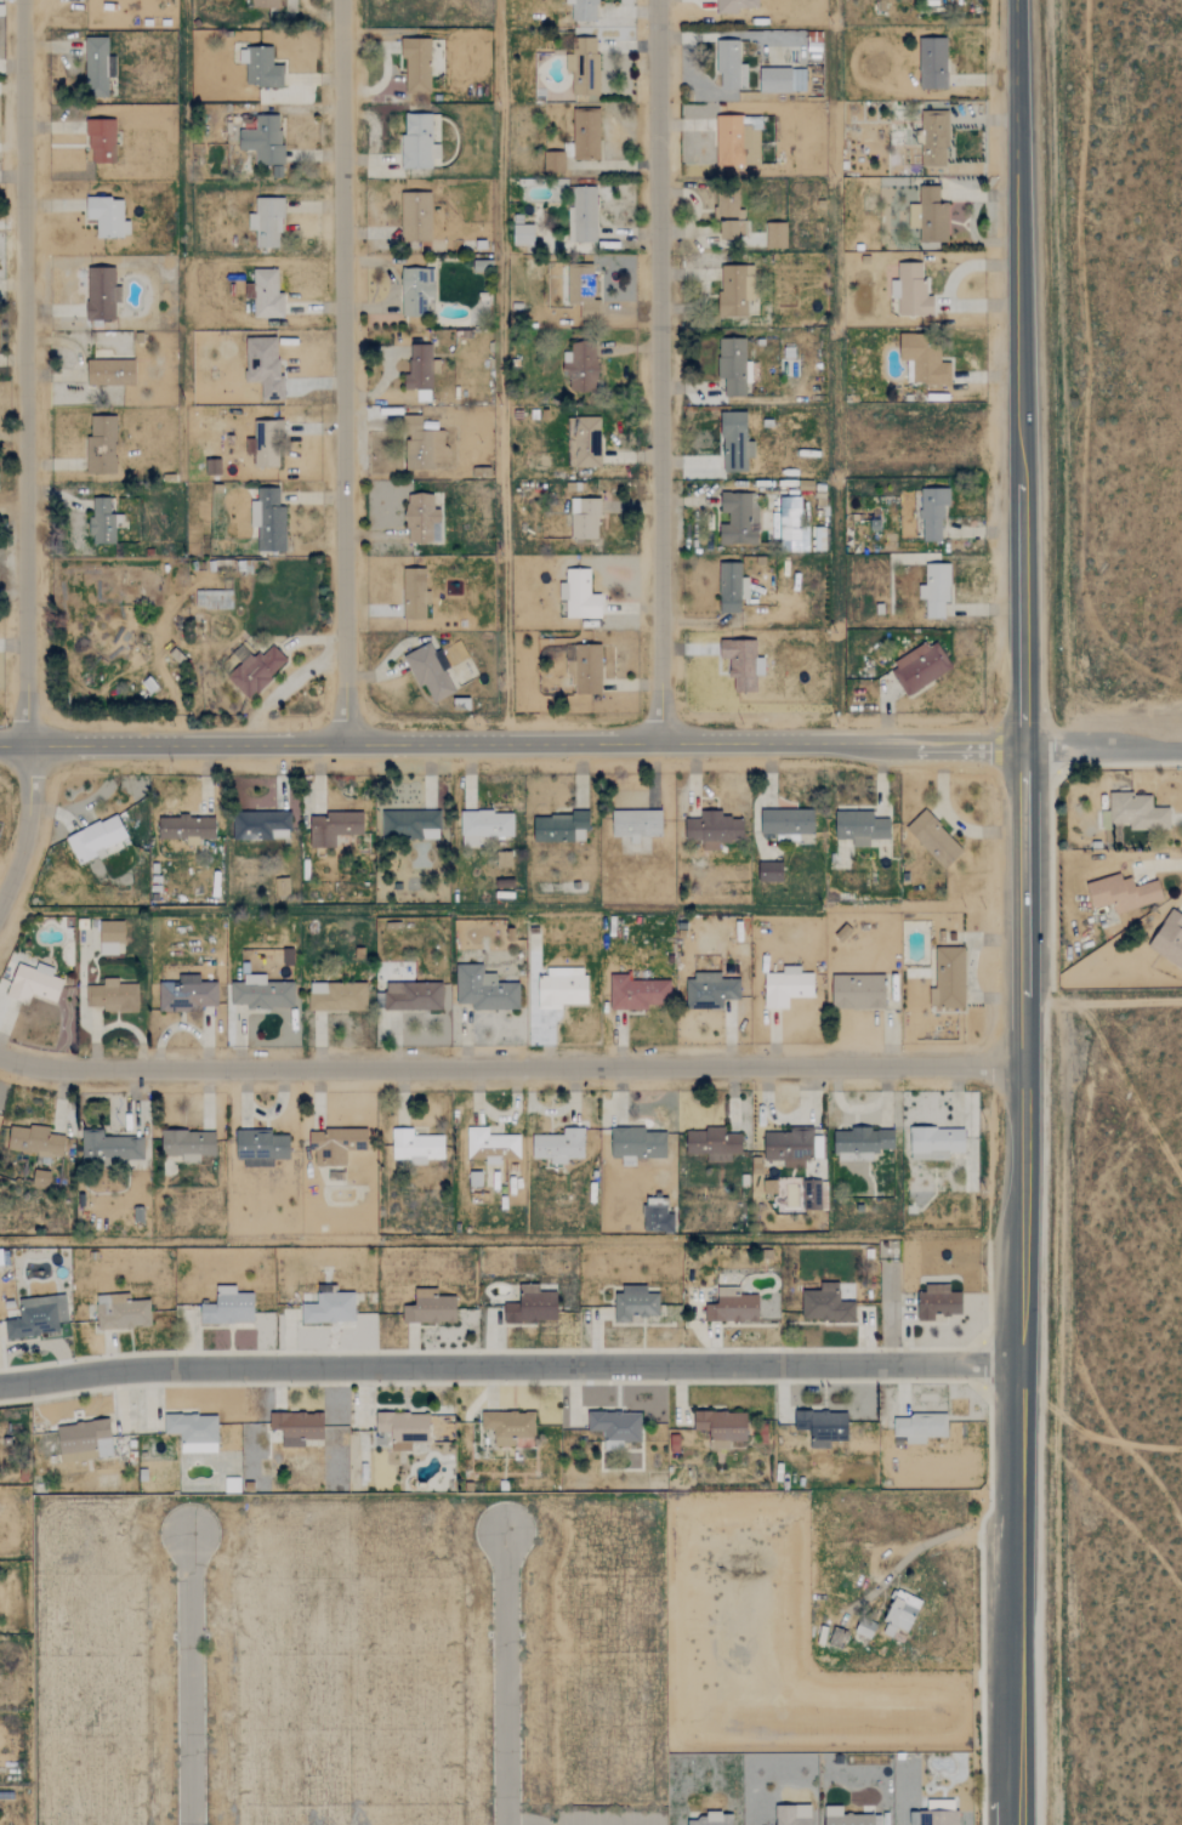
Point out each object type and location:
building: (265, 4)
building: (737, 5)
building: (583, 10)
building: (729, 63)
building: (932, 63)
building: (416, 64)
building: (97, 67)
building: (584, 67)
building: (261, 68)
building: (782, 80)
building: (586, 135)
building: (263, 140)
building: (934, 140)
building: (101, 141)
building: (738, 141)
building: (417, 142)
building: (553, 161)
building: (728, 214)
building: (581, 215)
building: (930, 216)
building: (107, 217)
building: (415, 217)
building: (266, 222)
building: (523, 234)
building: (775, 235)
building: (735, 290)
building: (416, 291)
building: (910, 291)
building: (102, 294)
building: (267, 295)
building: (581, 295)
building: (925, 359)
building: (265, 366)
building: (581, 366)
building: (733, 366)
road: (655, 368)
road: (340, 369)
building: (421, 370)
road: (1018, 371)
building: (110, 373)
building: (587, 442)
building: (735, 443)
building: (101, 444)
building: (267, 444)
building: (427, 444)
road: (23, 453)
building: (212, 467)
building: (932, 513)
building: (421, 519)
building: (584, 519)
building: (739, 519)
building: (268, 521)
building: (103, 522)
building: (791, 527)
building: (732, 587)
building: (936, 590)
building: (414, 593)
building: (579, 596)
building: (743, 664)
building: (920, 667)
building: (254, 670)
building: (586, 670)
building: (430, 671)
road: (511, 737)
road: (1102, 743)
building: (1137, 813)
building: (786, 821)
building: (260, 825)
building: (410, 825)
building: (637, 825)
building: (484, 826)
building: (186, 828)
building: (334, 828)
building: (559, 828)
building: (860, 828)
building: (714, 830)
building: (96, 840)
building: (934, 840)
building: (769, 872)
building: (282, 887)
building: (1123, 893)
building: (110, 937)
building: (1169, 939)
building: (948, 978)
building: (34, 984)
building: (786, 988)
building: (562, 989)
building: (484, 990)
building: (710, 991)
building: (858, 991)
building: (261, 994)
building: (637, 994)
building: (187, 995)
building: (112, 996)
building: (336, 996)
building: (413, 996)
road: (512, 1068)
building: (35, 1142)
building: (936, 1142)
building: (712, 1143)
building: (862, 1143)
building: (188, 1144)
building: (335, 1144)
building: (637, 1144)
building: (109, 1145)
building: (415, 1145)
building: (490, 1145)
building: (558, 1145)
building: (794, 1145)
building: (261, 1148)
building: (40, 1178)
building: (769, 1187)
building: (657, 1219)
road: (1015, 1285)
building: (937, 1302)
building: (635, 1303)
building: (825, 1304)
building: (532, 1306)
building: (228, 1307)
building: (732, 1307)
building: (329, 1308)
building: (430, 1308)
building: (121, 1312)
building: (36, 1317)
road: (505, 1365)
building: (508, 1426)
building: (296, 1427)
building: (615, 1427)
building: (721, 1427)
building: (823, 1427)
building: (920, 1427)
building: (403, 1428)
building: (434, 1429)
building: (193, 1432)
building: (84, 1440)
building: (900, 1614)
building: (865, 1628)
road: (505, 1676)
road: (188, 1678)
building: (939, 1813)
building: (792, 1814)
building: (847, 1818)
building: (714, 1819)

